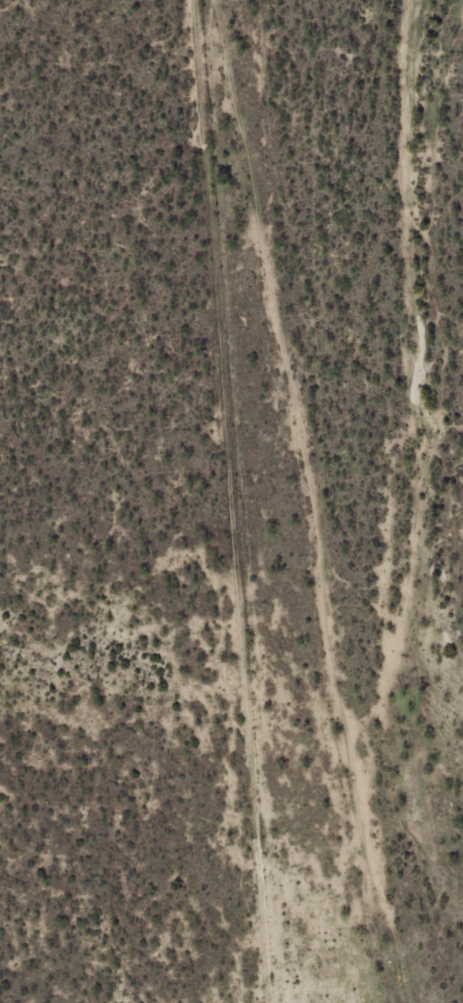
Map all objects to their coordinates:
road: (302, 502)

